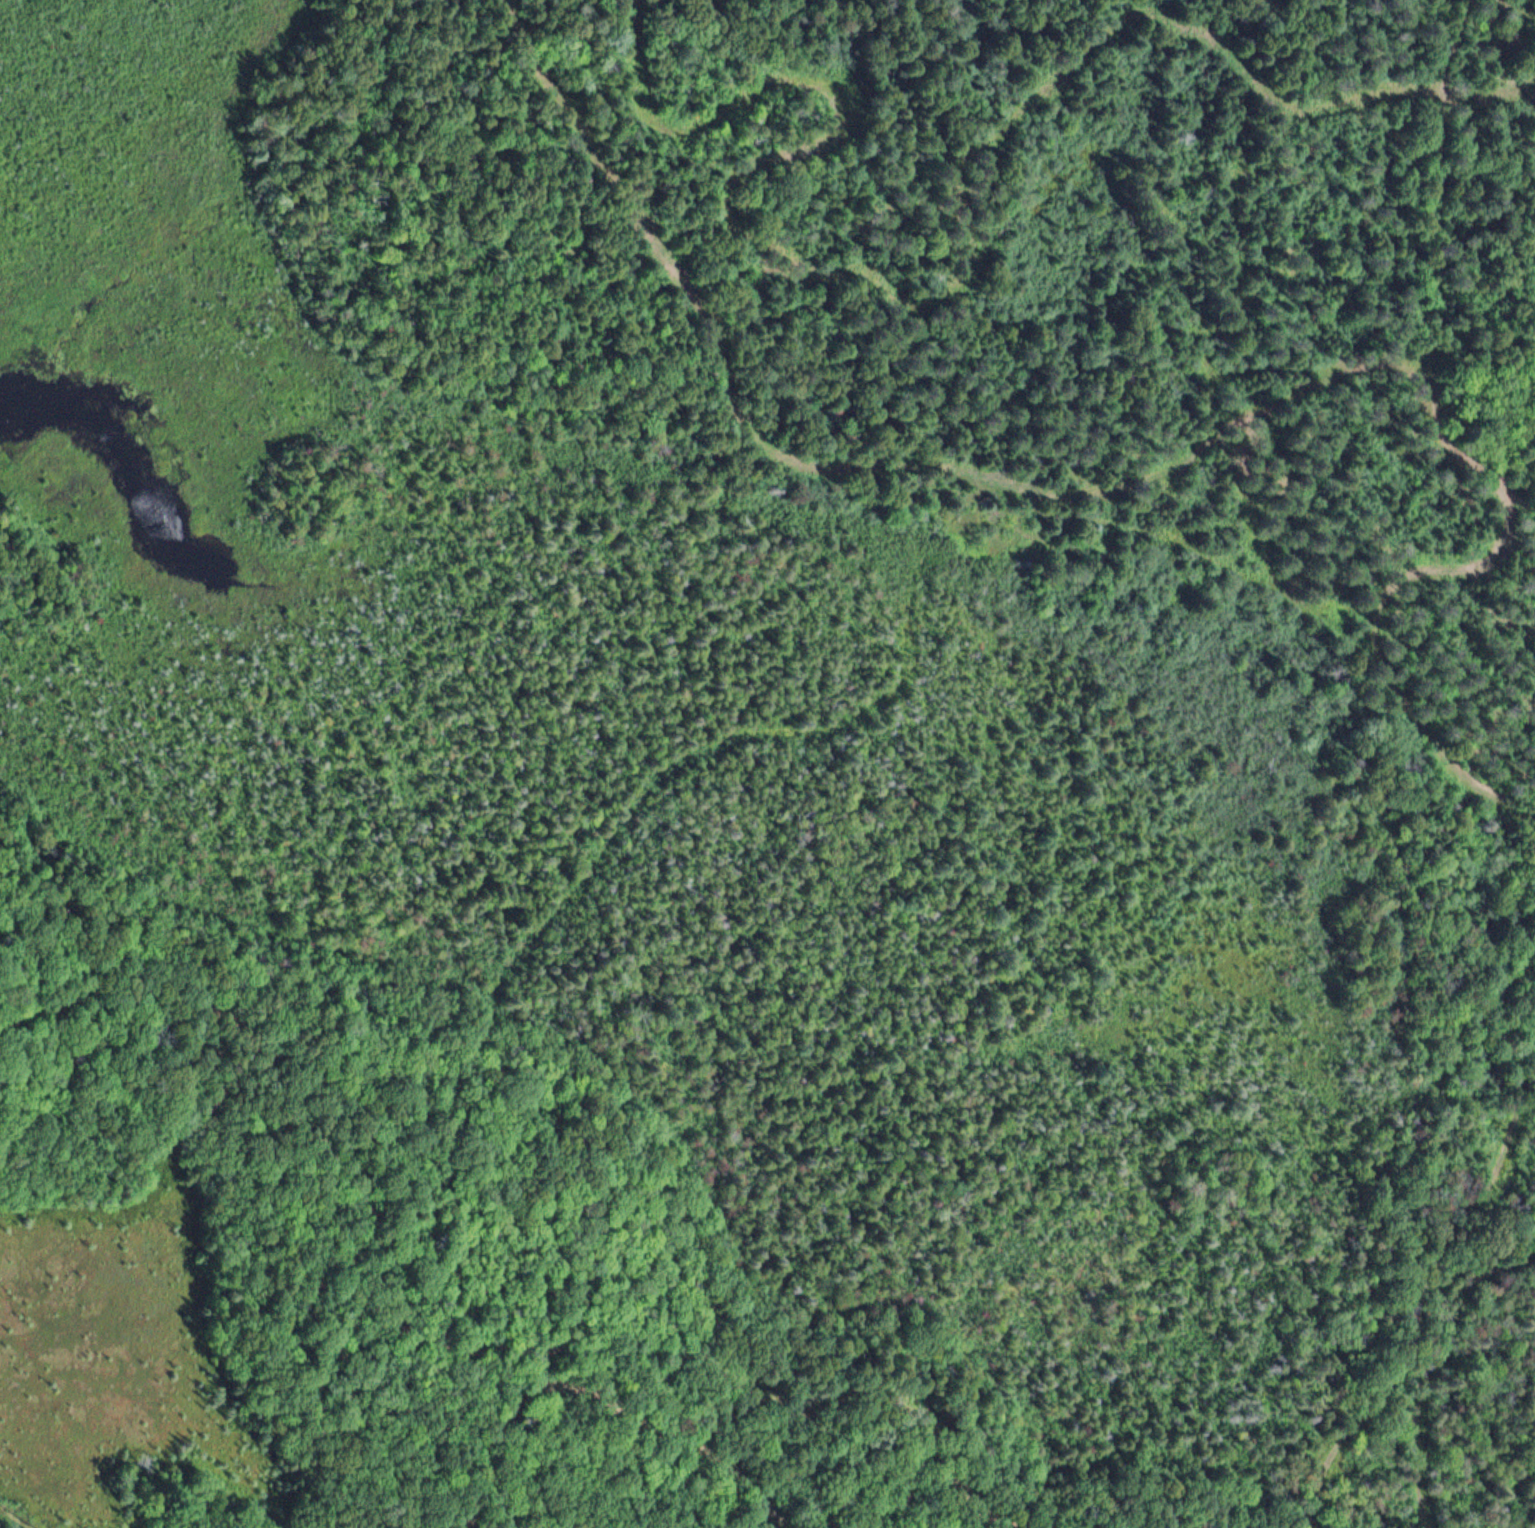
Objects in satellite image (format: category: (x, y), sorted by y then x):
road: (16, 1517)

